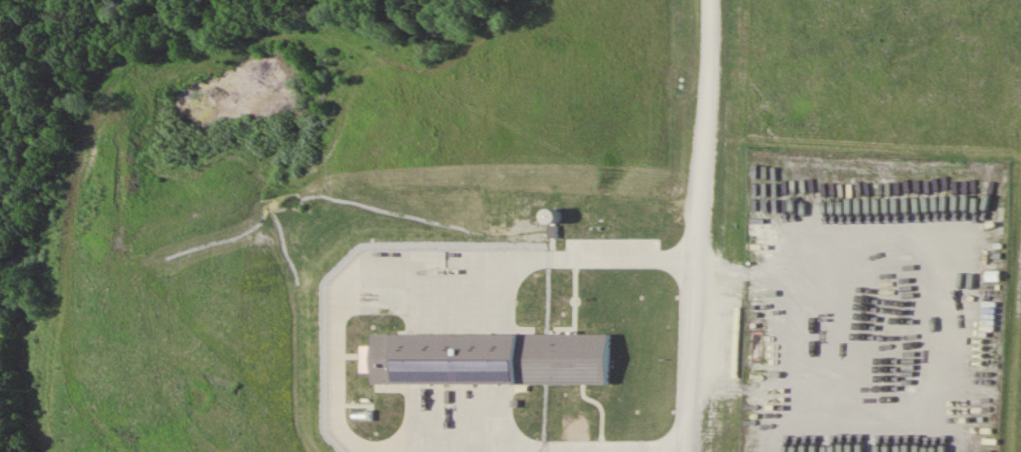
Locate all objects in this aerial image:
road: (689, 225)
building: (563, 304)

